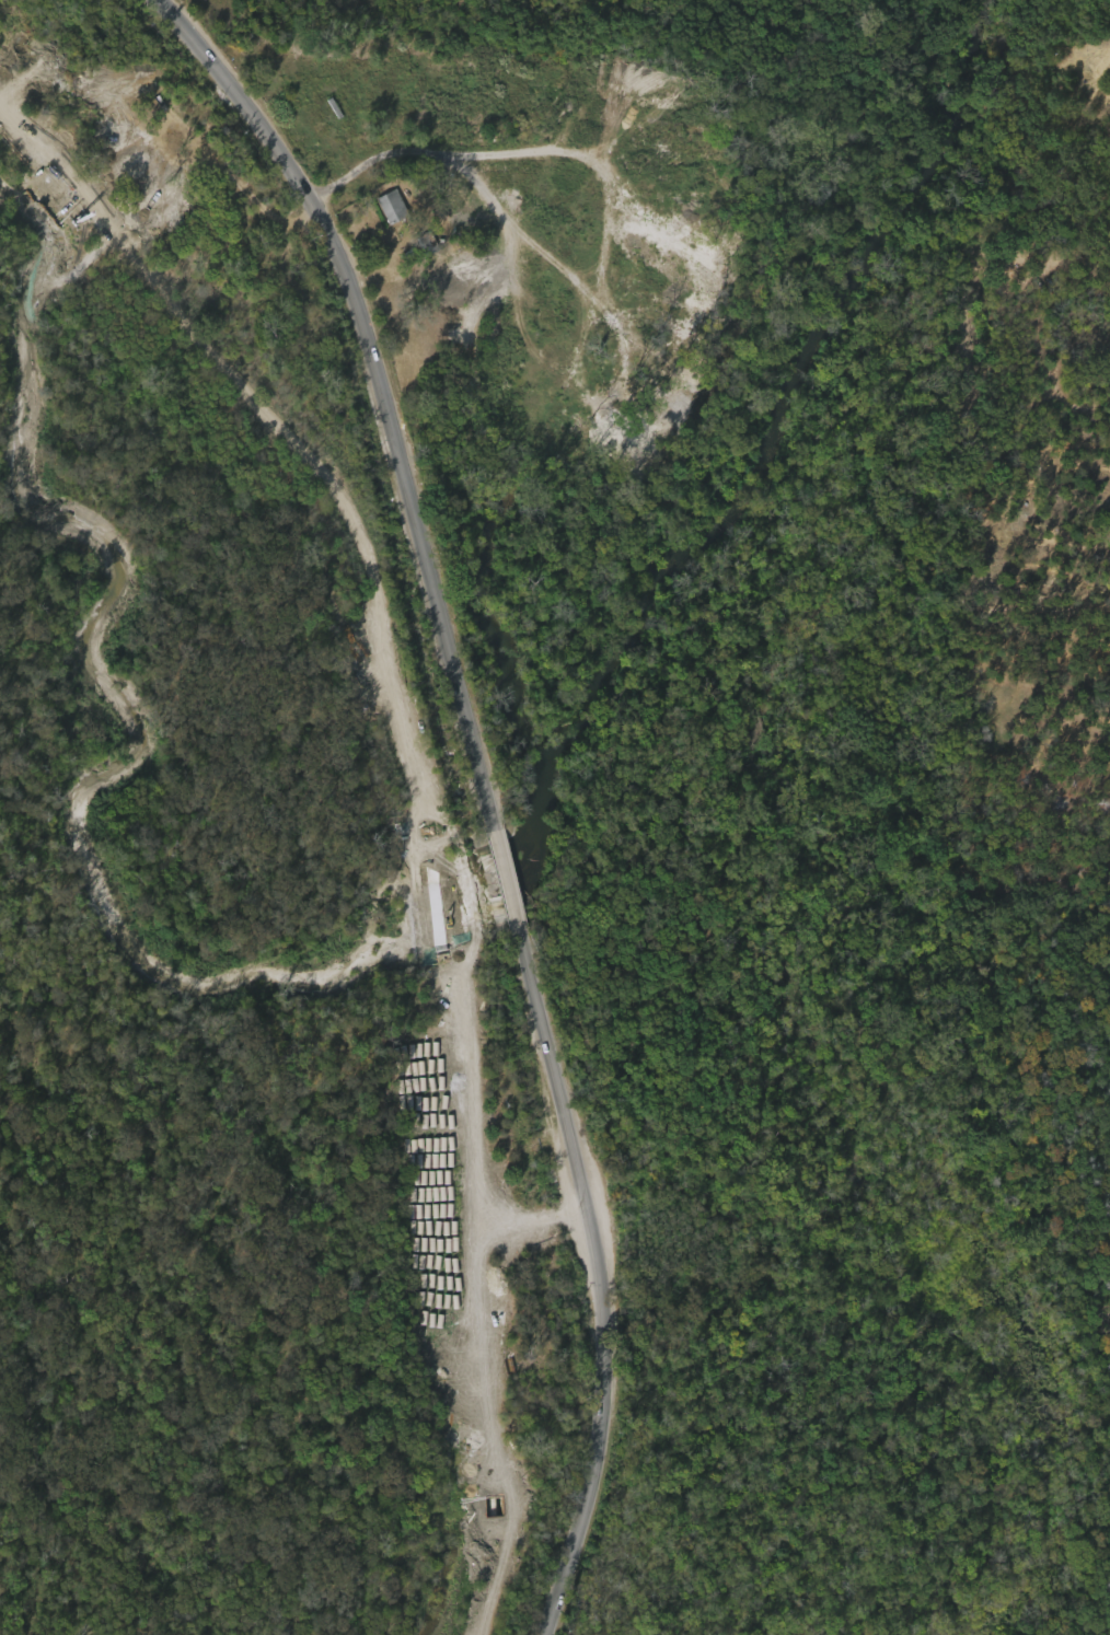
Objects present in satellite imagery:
road: (413, 151)
building: (391, 206)
building: (382, 212)
building: (425, 241)
road: (487, 788)

